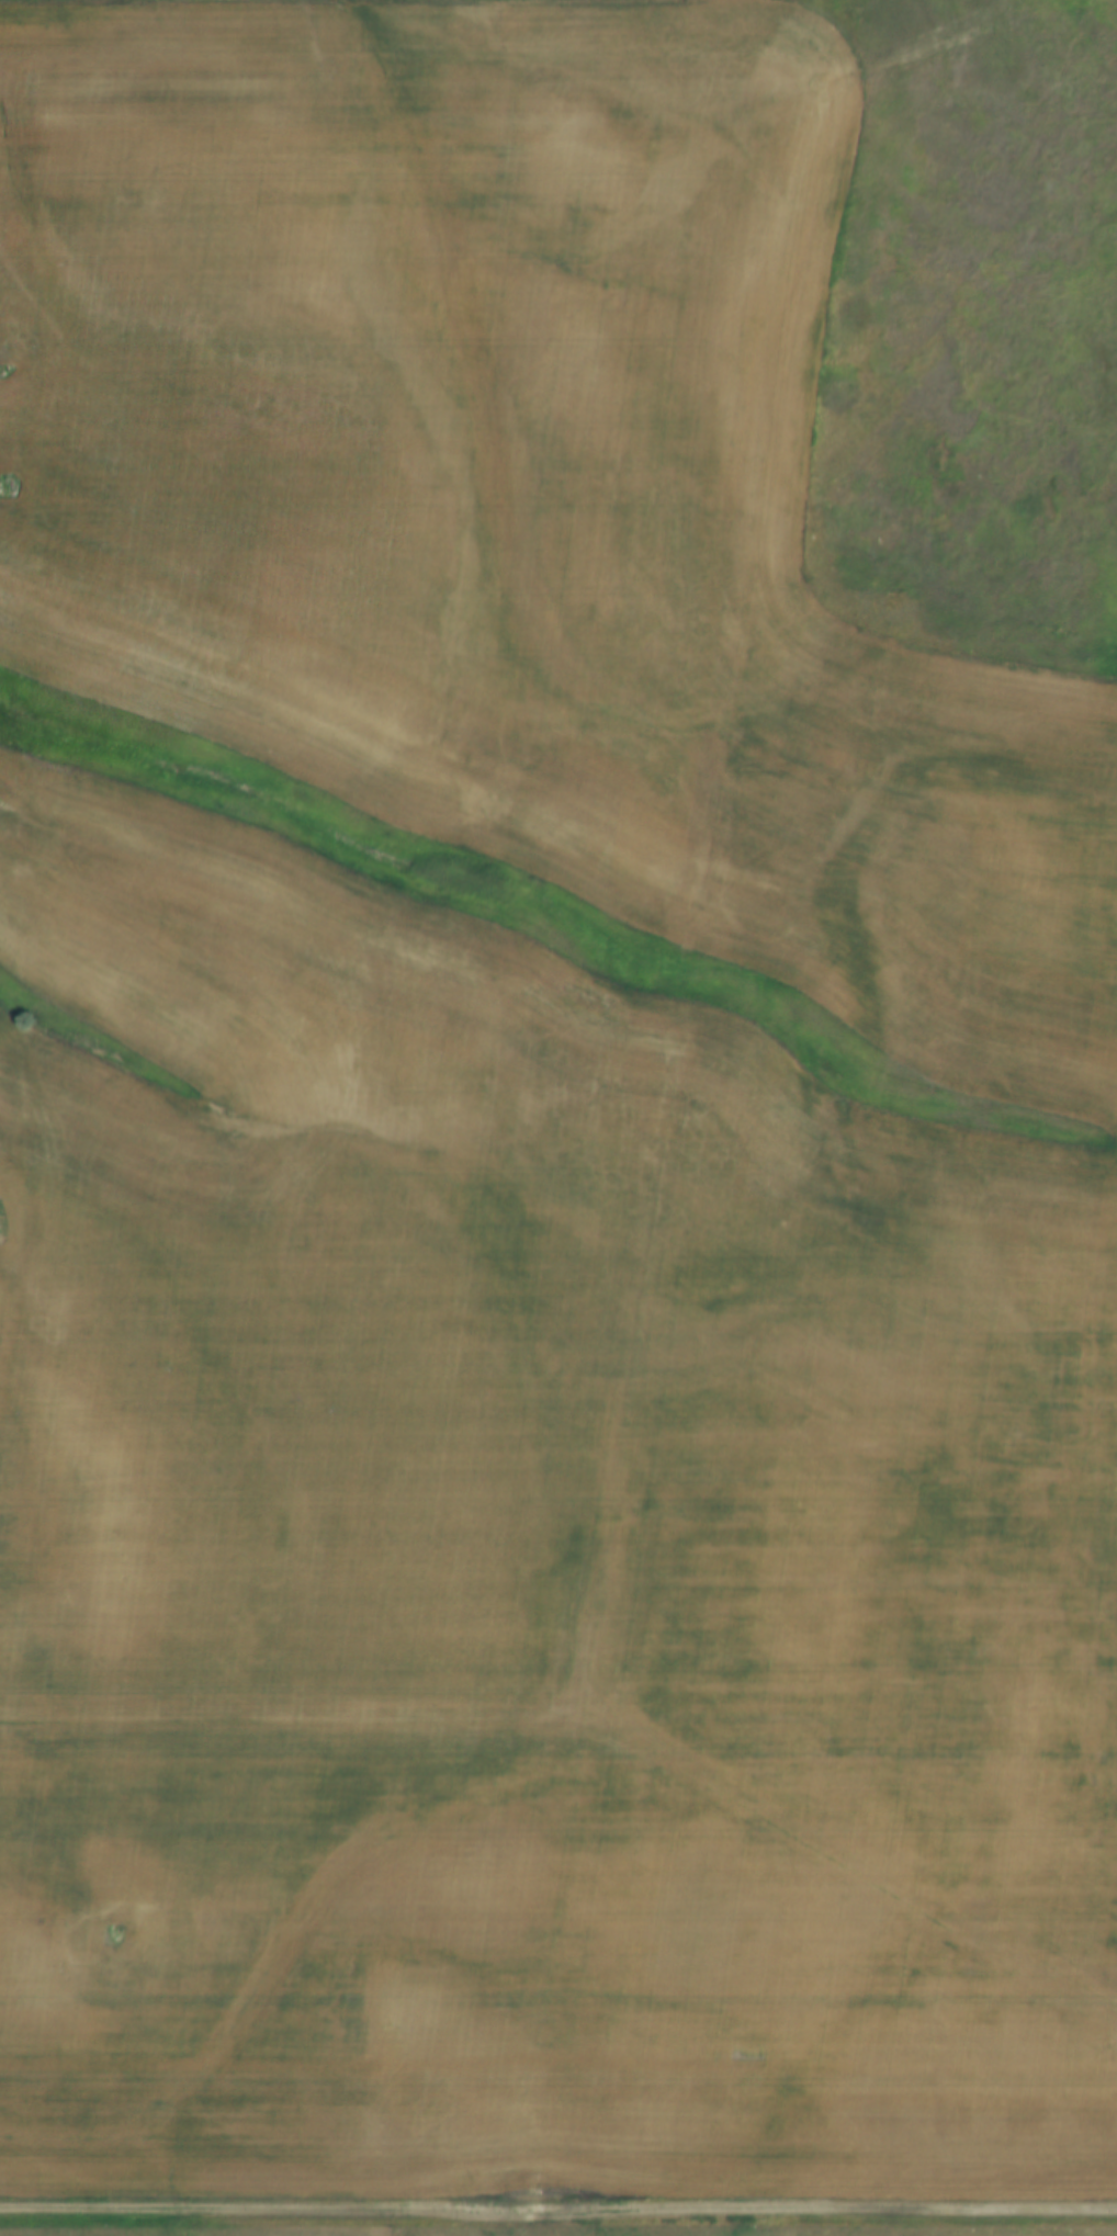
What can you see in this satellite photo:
road: (558, 2207)

